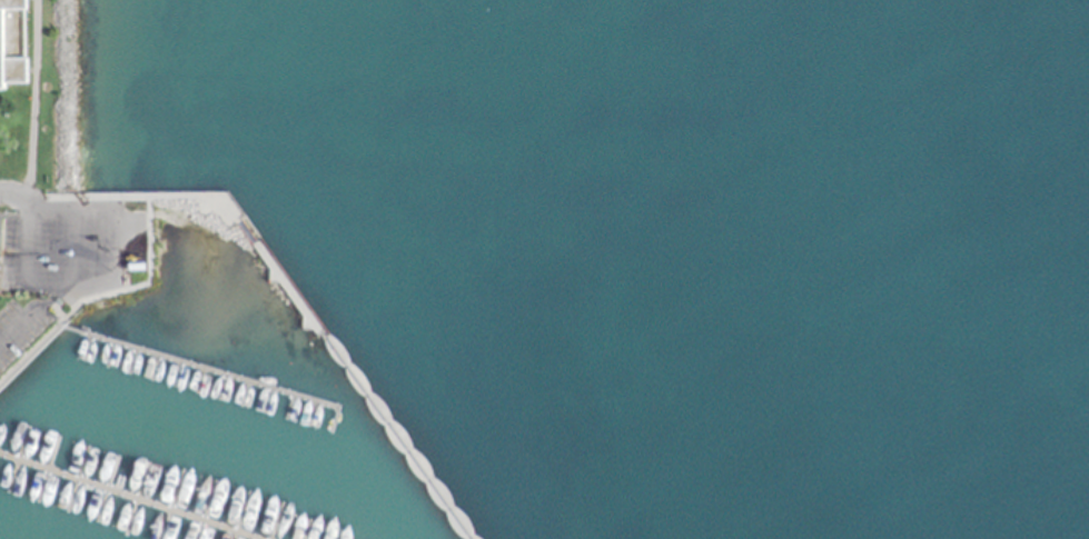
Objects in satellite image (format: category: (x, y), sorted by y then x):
building: (11, 41)
park: (42, 94)
road: (31, 96)
road: (12, 181)
road: (16, 206)
road: (67, 206)
parking lot: (66, 246)
road: (67, 246)
road: (149, 282)
road: (59, 286)
road: (287, 289)
road: (30, 315)
parking lot: (19, 326)
road: (38, 341)
road: (41, 345)
road: (87, 350)
road: (108, 357)
road: (130, 363)
road: (197, 369)
road: (151, 371)
road: (174, 379)
road: (197, 385)
road: (219, 391)
road: (241, 398)
road: (265, 405)
road: (286, 412)
road: (310, 418)
road: (333, 426)
road: (16, 462)
road: (46, 473)
road: (73, 485)
road: (103, 492)
road: (119, 499)
road: (133, 502)
road: (170, 507)
road: (206, 512)
road: (239, 517)
road: (273, 525)
road: (304, 533)
road: (336, 536)

